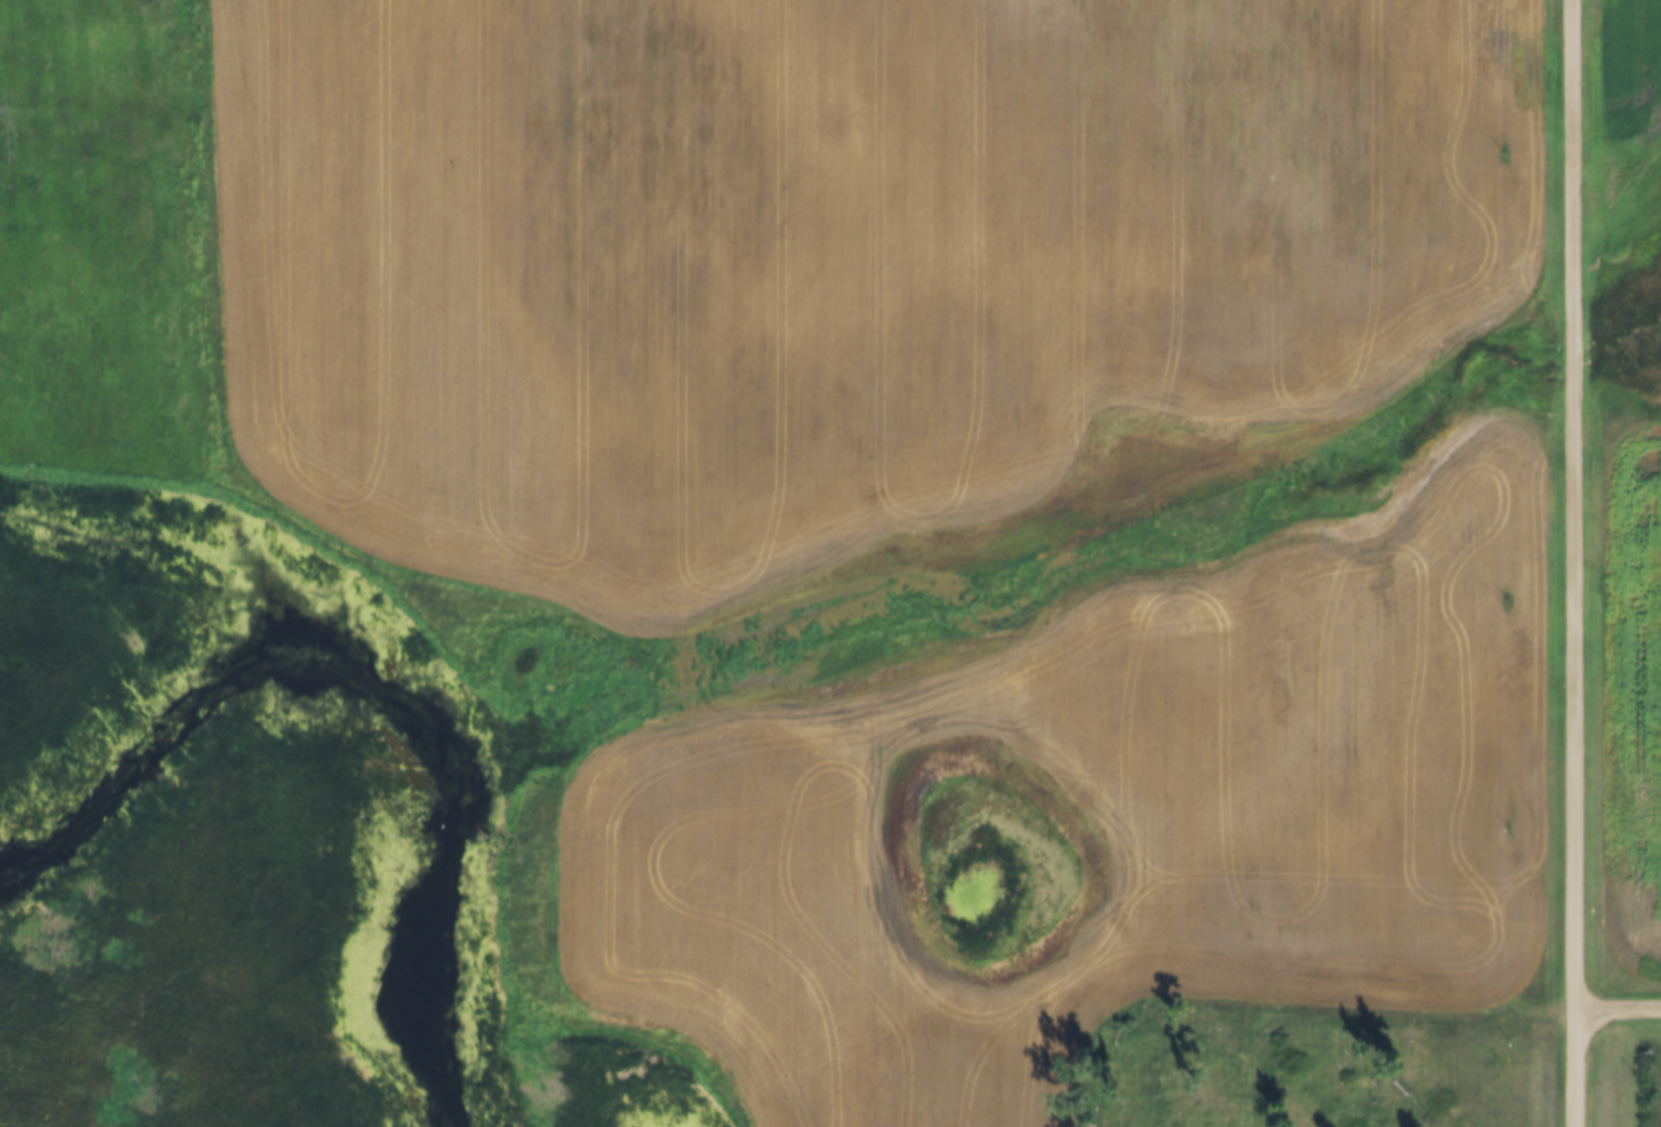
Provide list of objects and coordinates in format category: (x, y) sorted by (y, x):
road: (1571, 563)
river: (373, 699)
crop: (1307, 764)
road: (1617, 1005)

